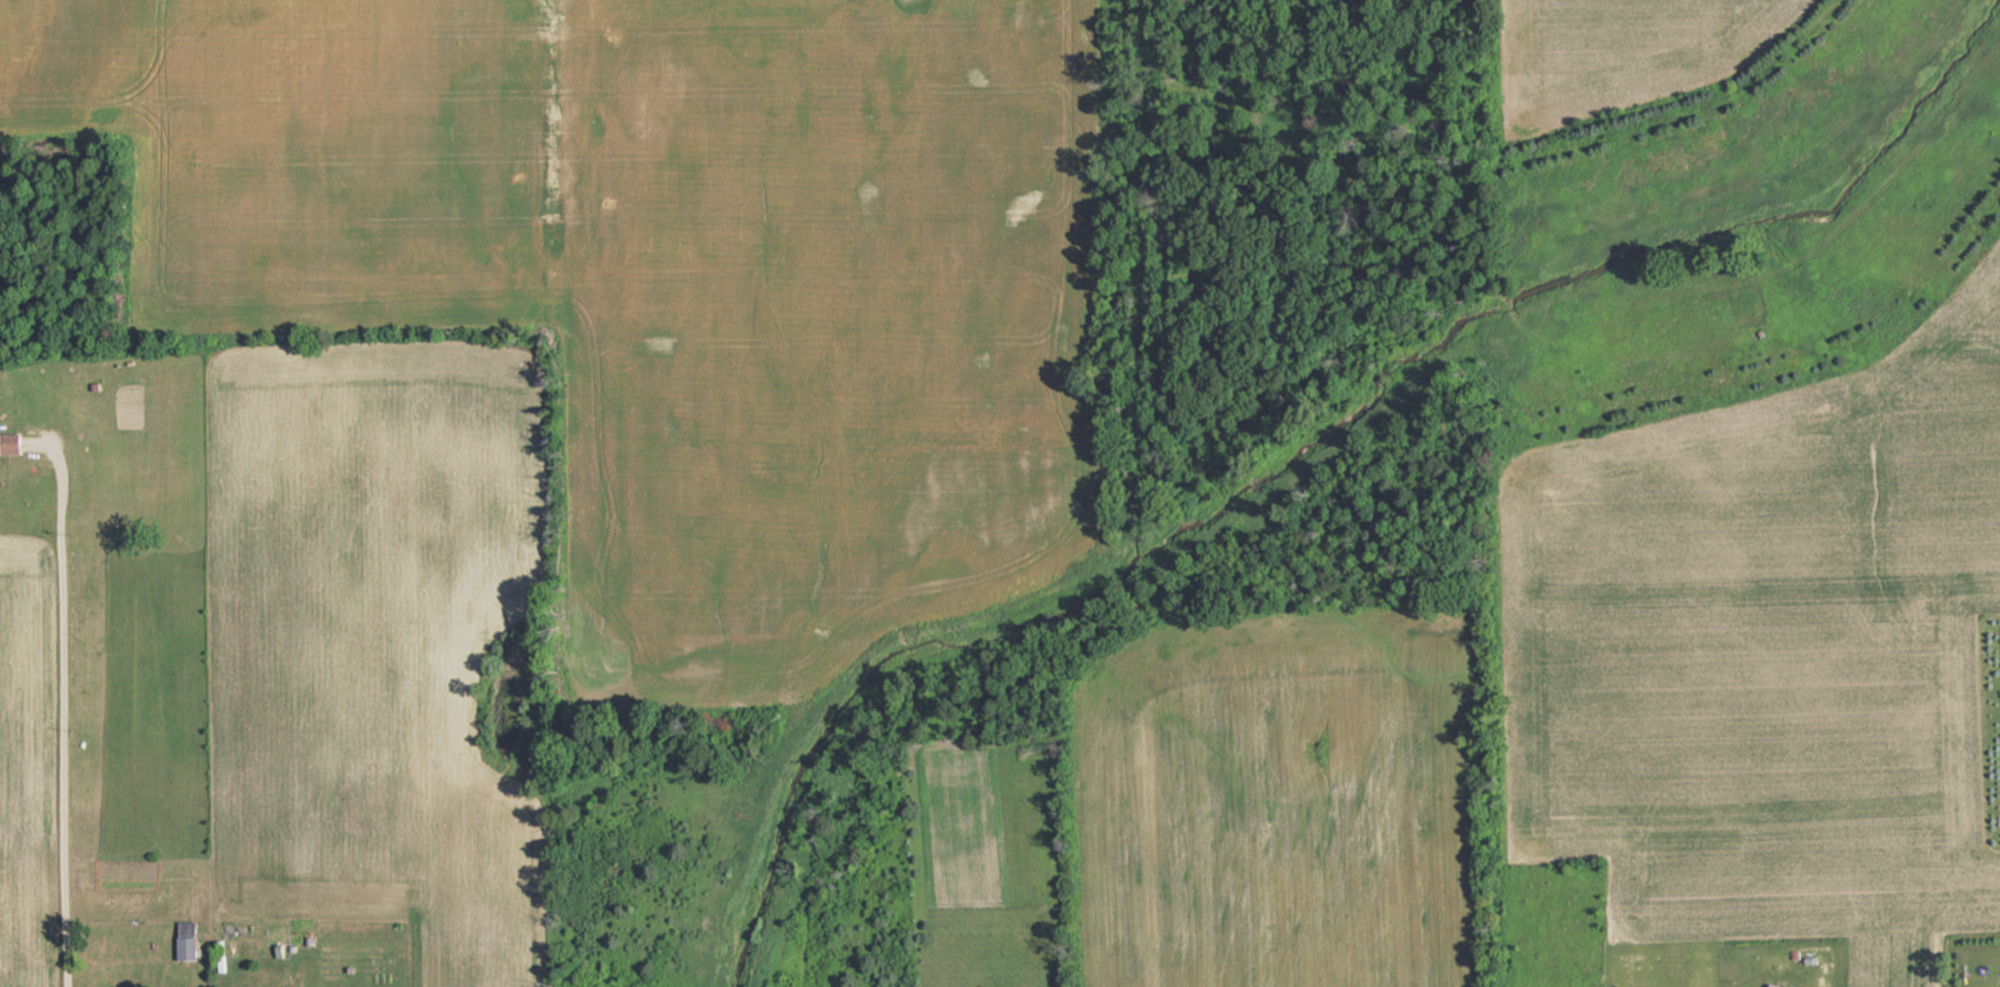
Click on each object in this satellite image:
building: (13, 445)
building: (191, 940)
building: (1768, 985)

